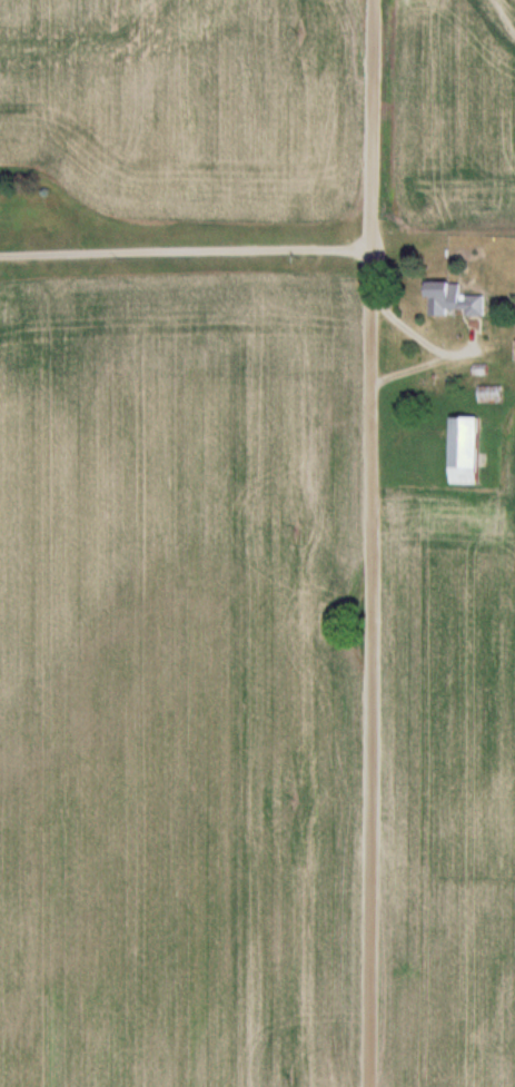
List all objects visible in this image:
road: (186, 248)
building: (457, 300)
road: (425, 340)
building: (491, 393)
building: (469, 451)
road: (369, 543)

